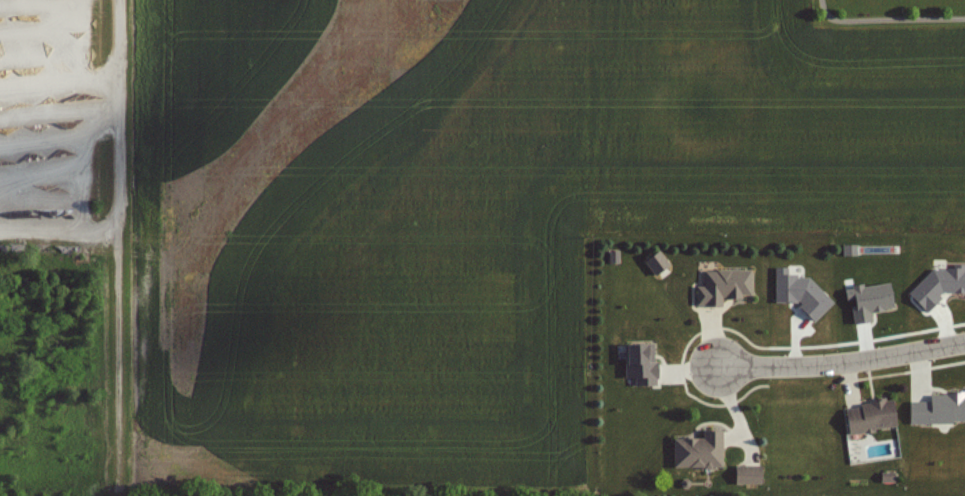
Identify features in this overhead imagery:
crop: (475, 211)
road: (118, 238)
building: (616, 257)
building: (658, 263)
building: (939, 283)
building: (726, 286)
building: (803, 291)
building: (872, 299)
road: (842, 360)
building: (643, 364)
building: (940, 409)
building: (874, 416)
building: (702, 451)
building: (750, 474)
building: (890, 477)
crop: (96, 493)

